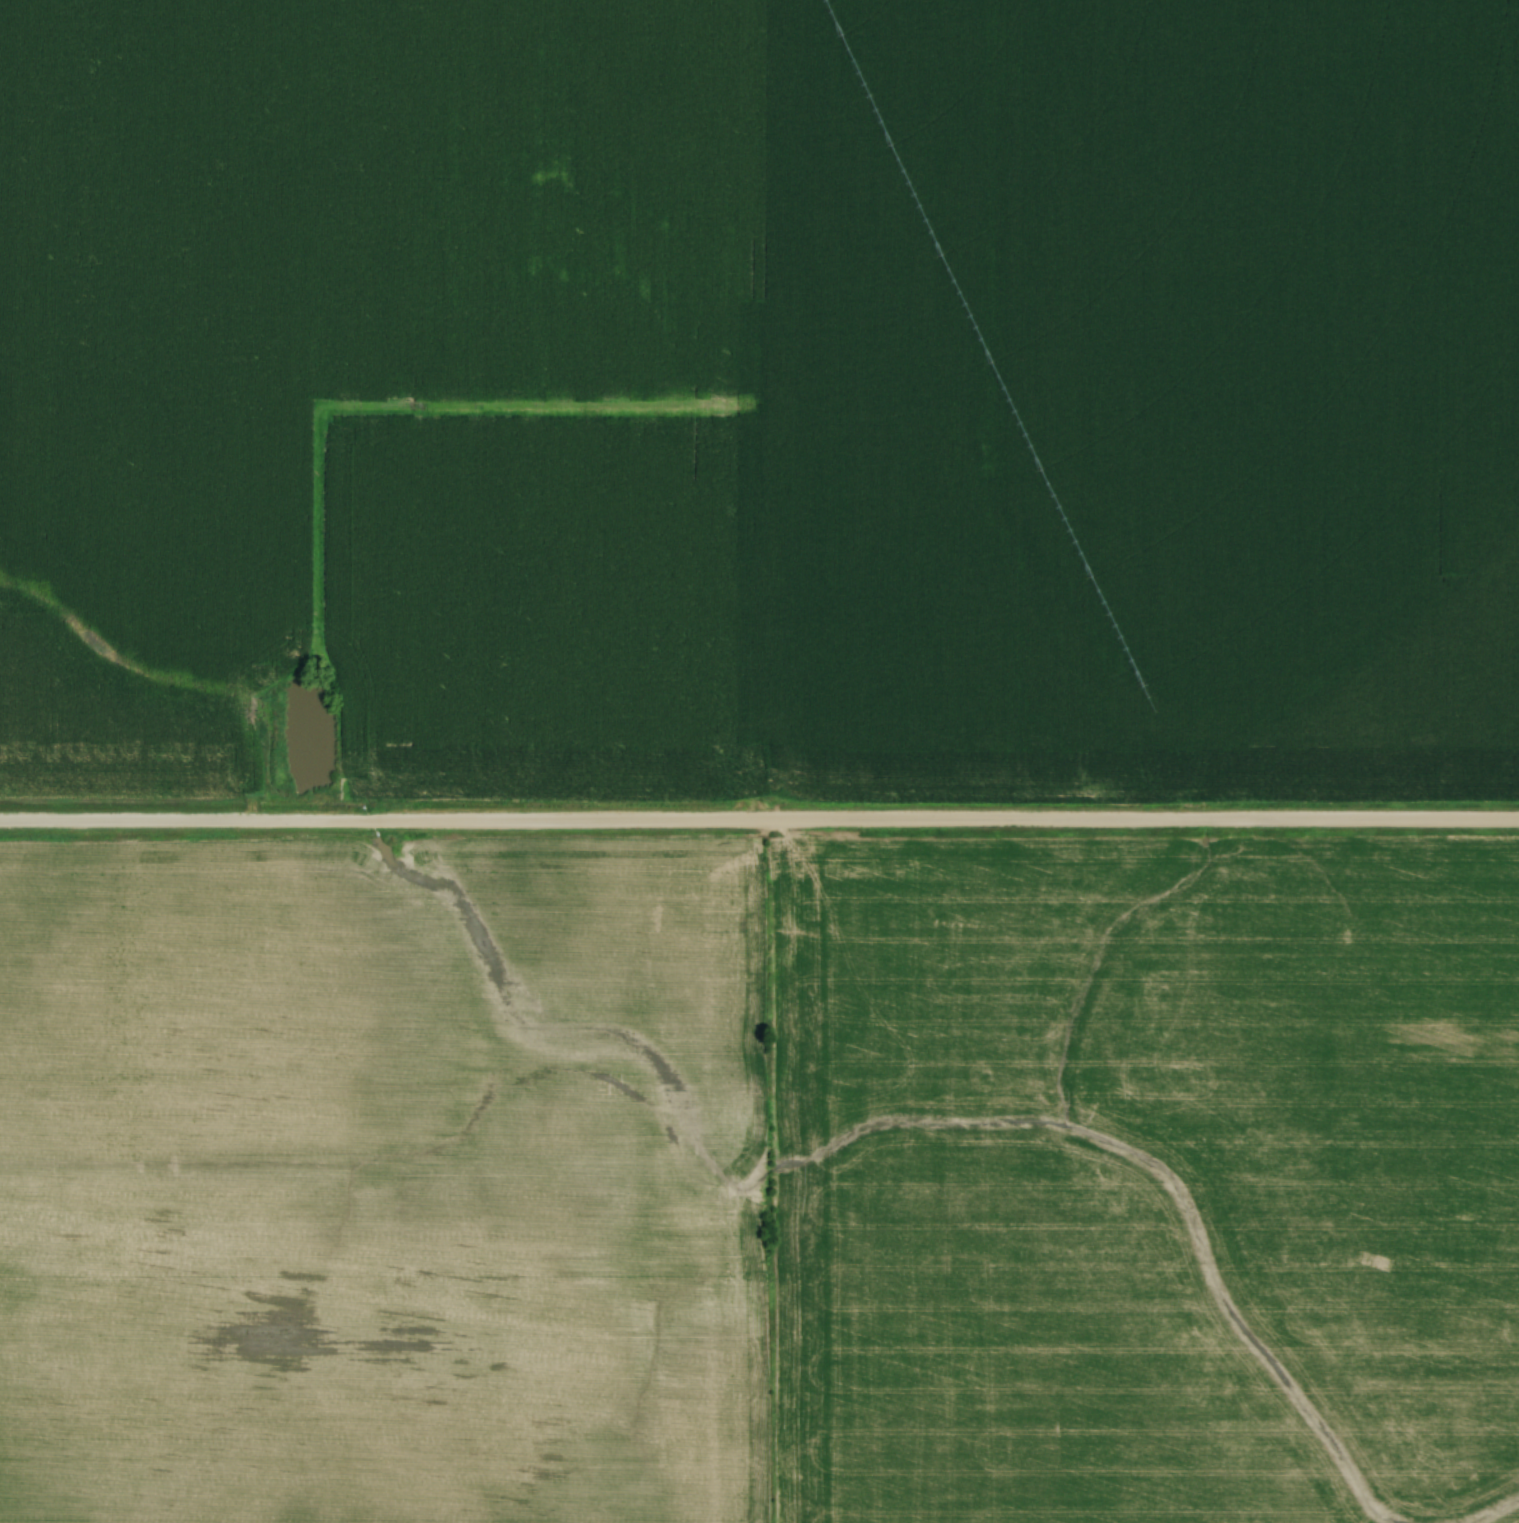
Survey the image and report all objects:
road: (759, 824)

